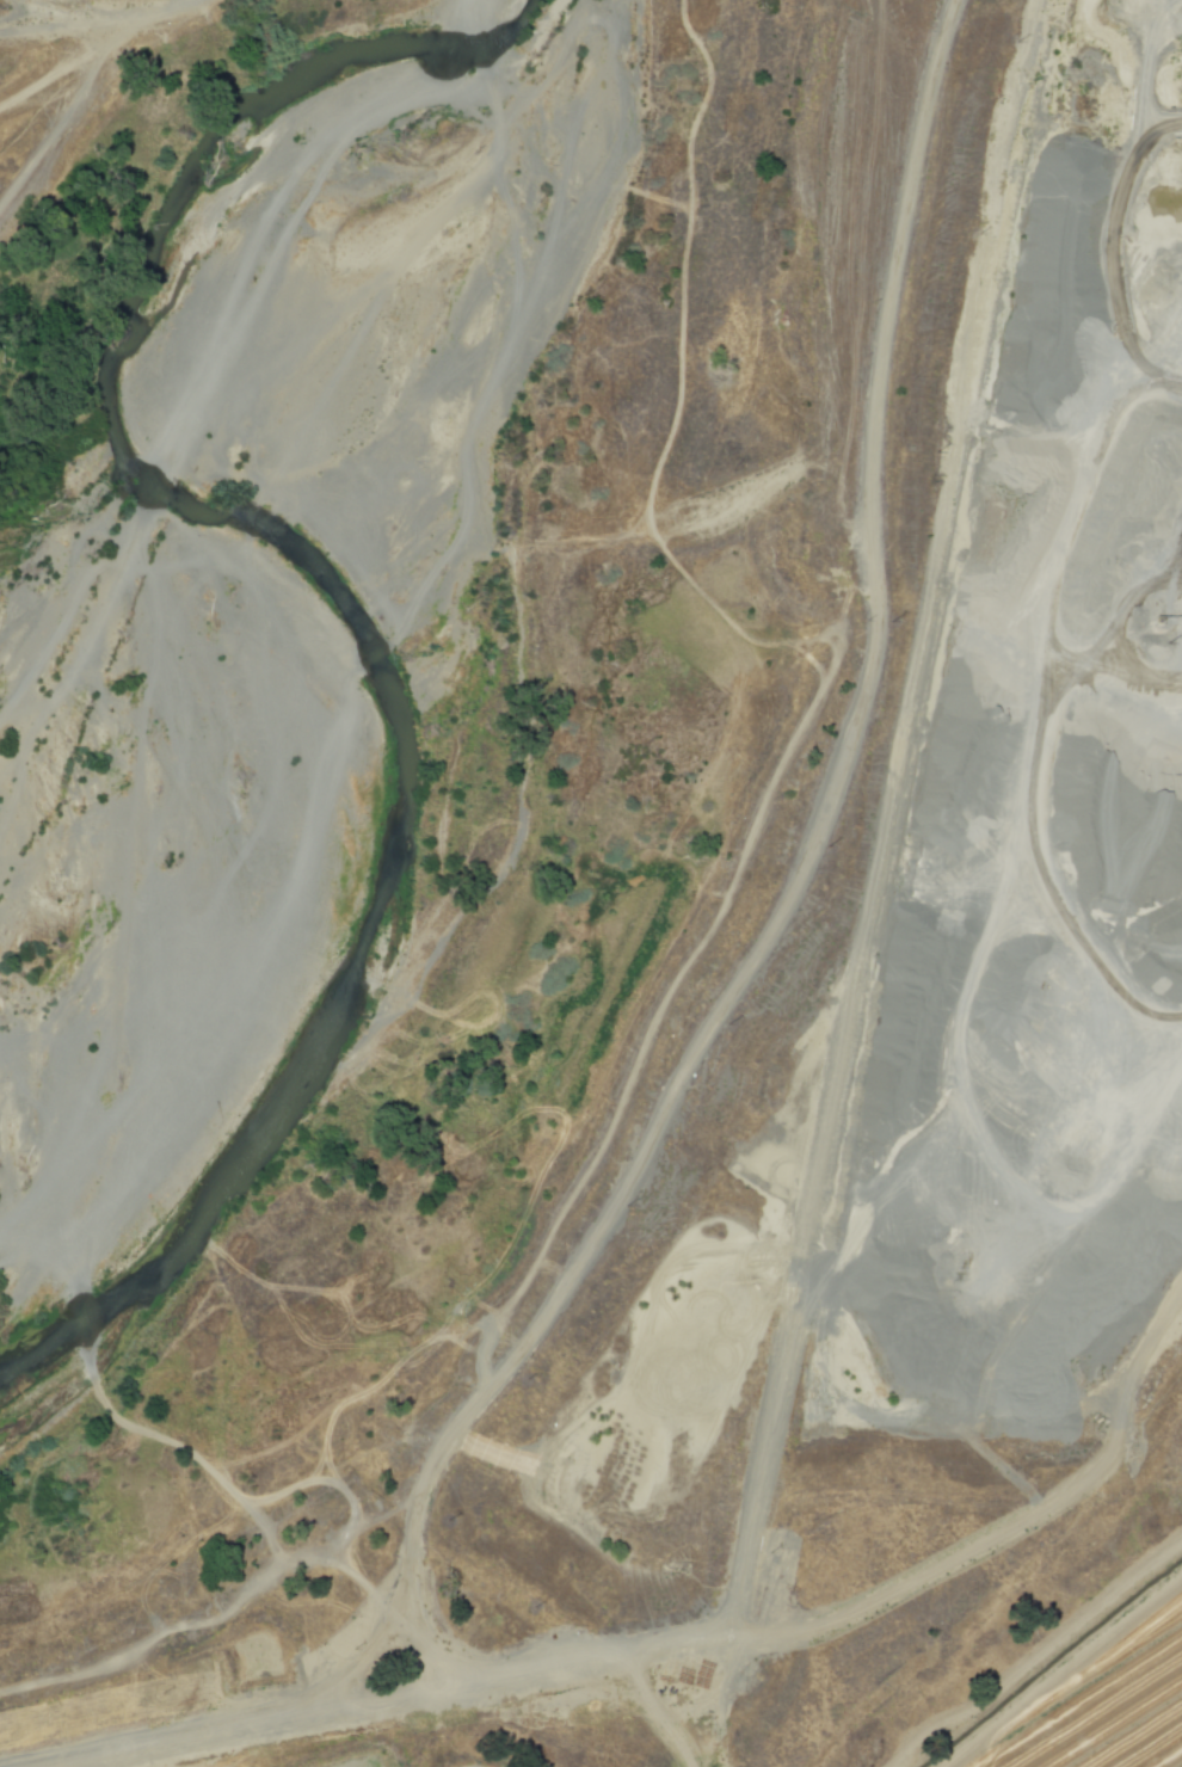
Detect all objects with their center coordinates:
river: (264, 346)
quarry: (893, 950)

